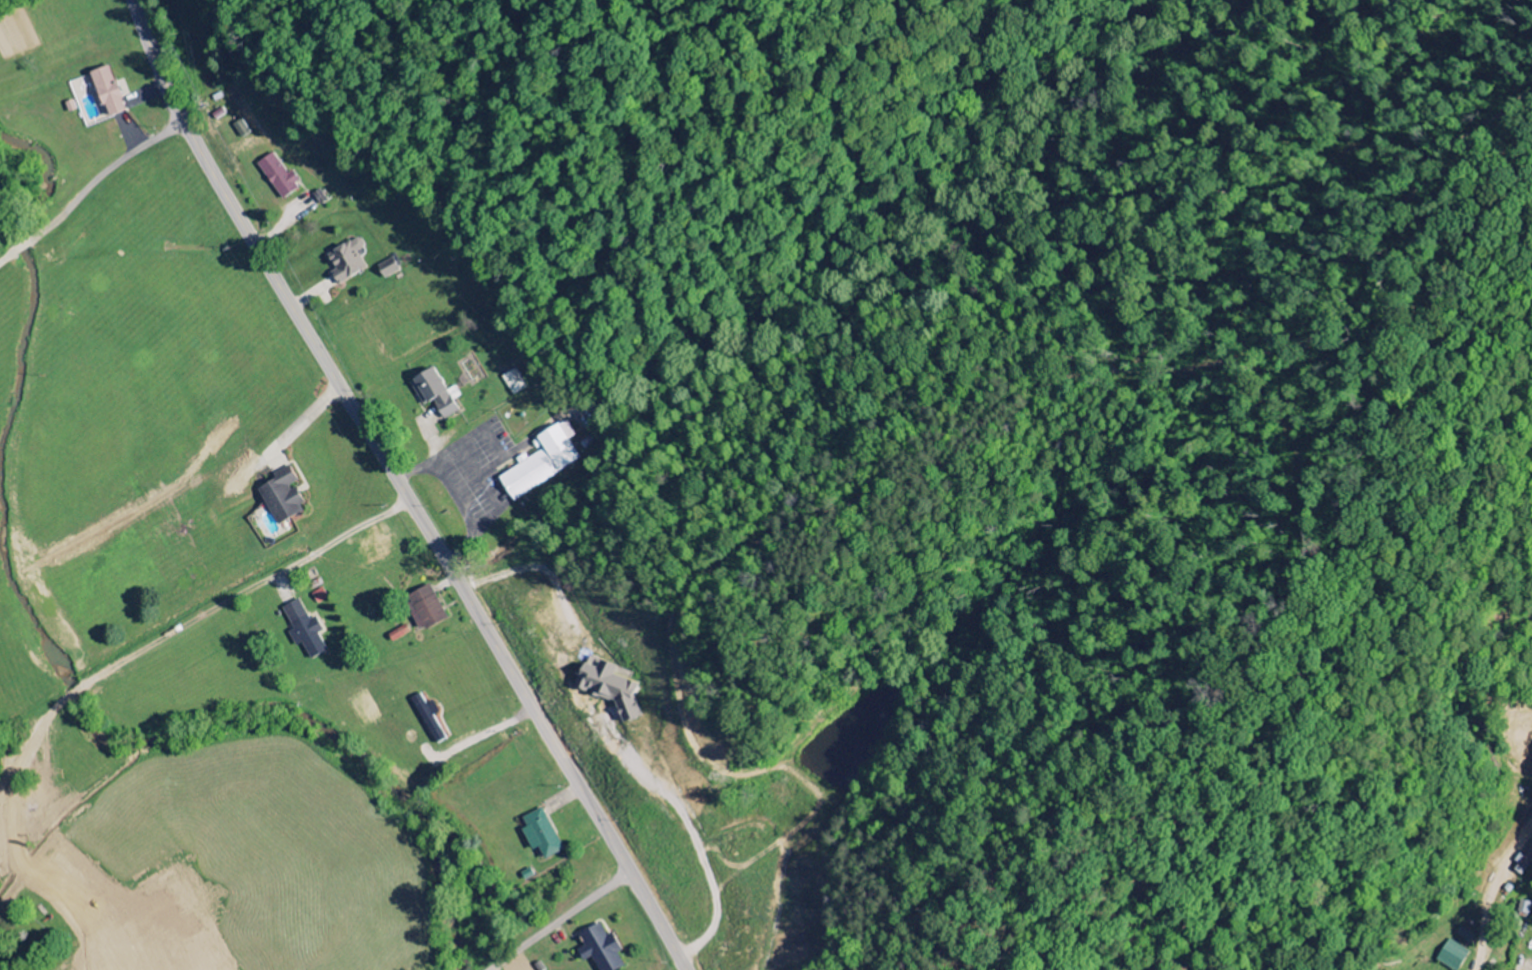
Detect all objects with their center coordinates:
building: (105, 92)
building: (240, 129)
road: (112, 166)
building: (276, 177)
road: (34, 238)
road: (8, 257)
building: (344, 261)
building: (385, 269)
building: (434, 393)
road: (402, 488)
building: (279, 495)
building: (423, 608)
road: (195, 620)
building: (303, 630)
river: (66, 676)
building: (606, 688)
building: (427, 718)
building: (540, 835)
building: (1523, 908)
road: (562, 920)
building: (599, 949)
building: (1451, 956)

